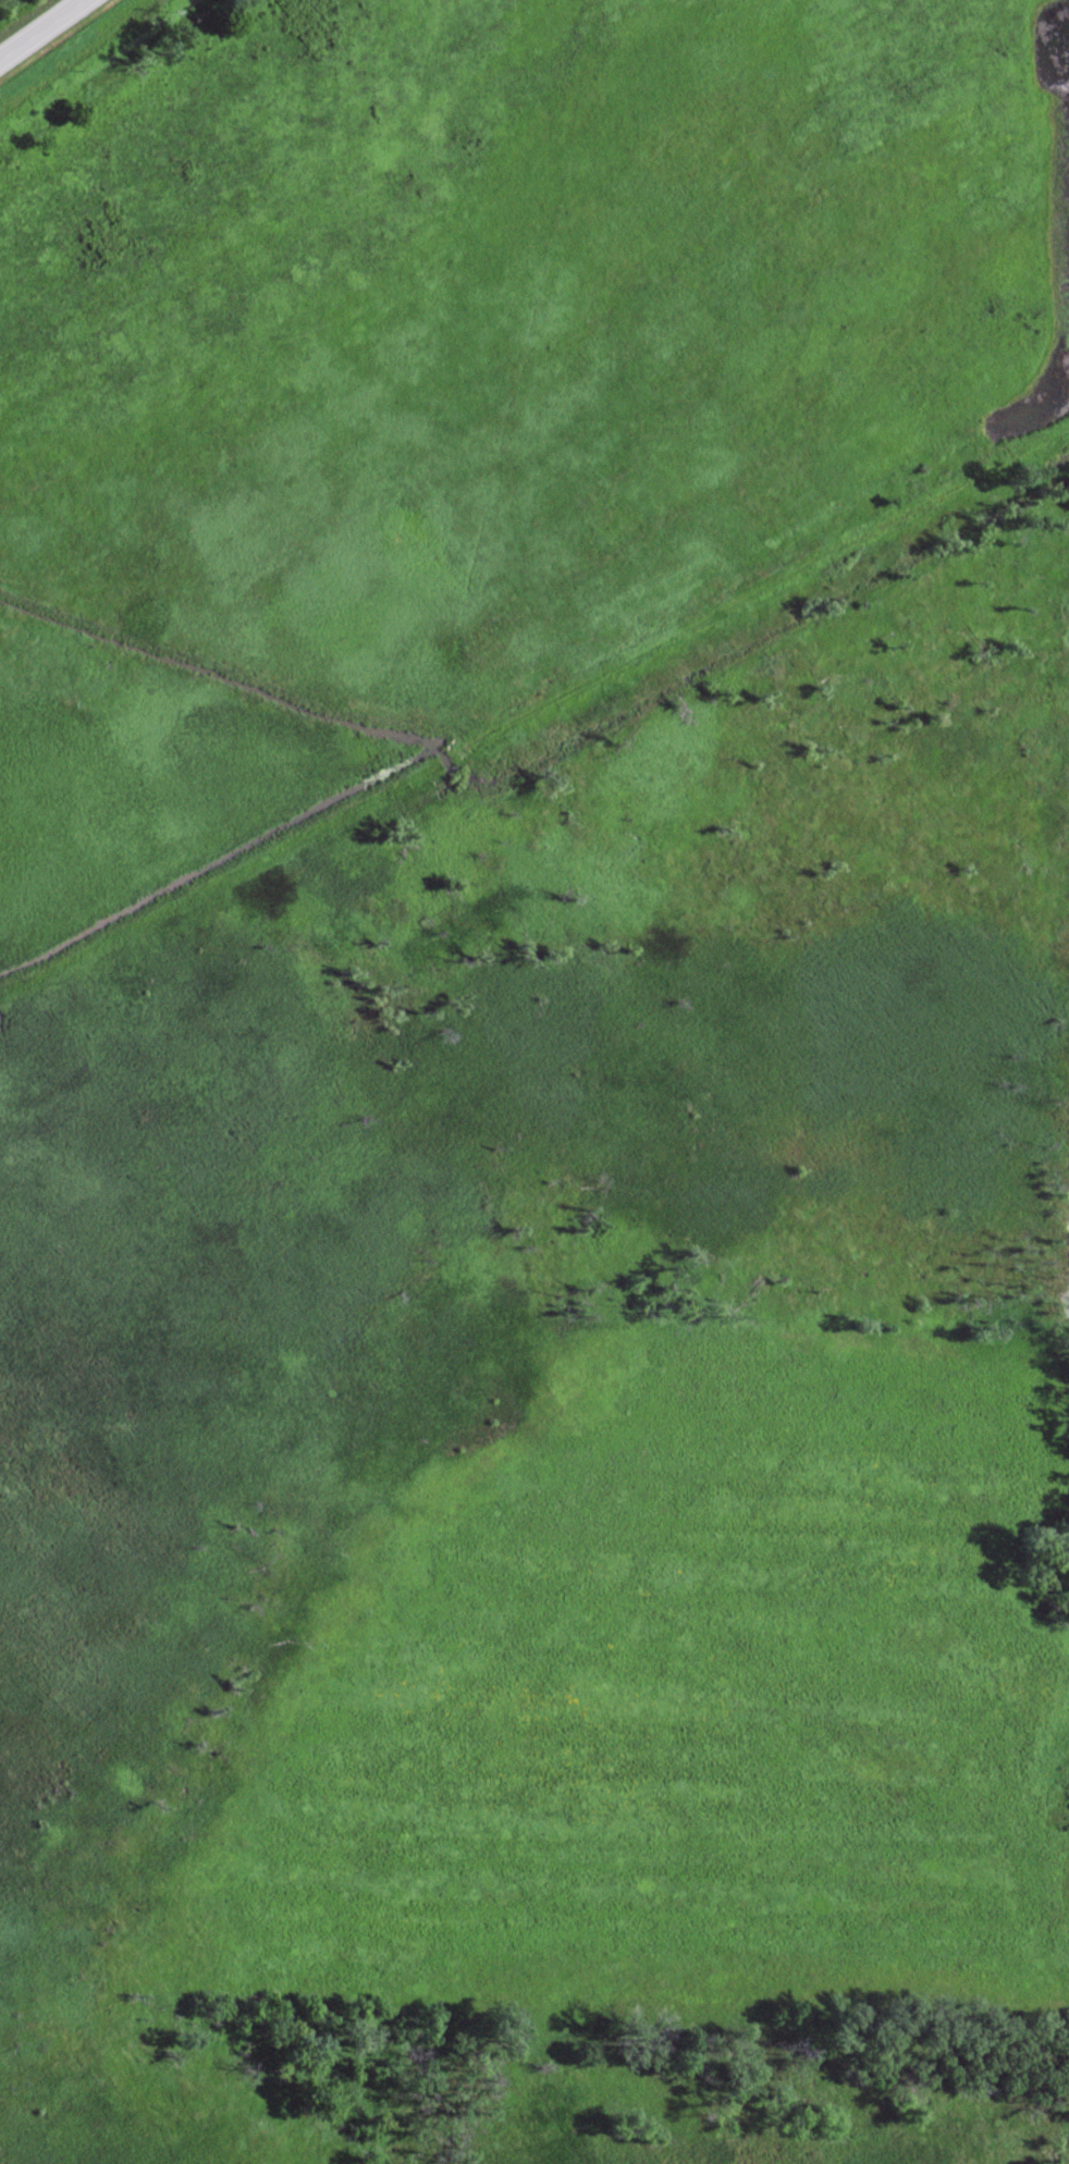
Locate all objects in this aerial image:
road: (64, 46)

